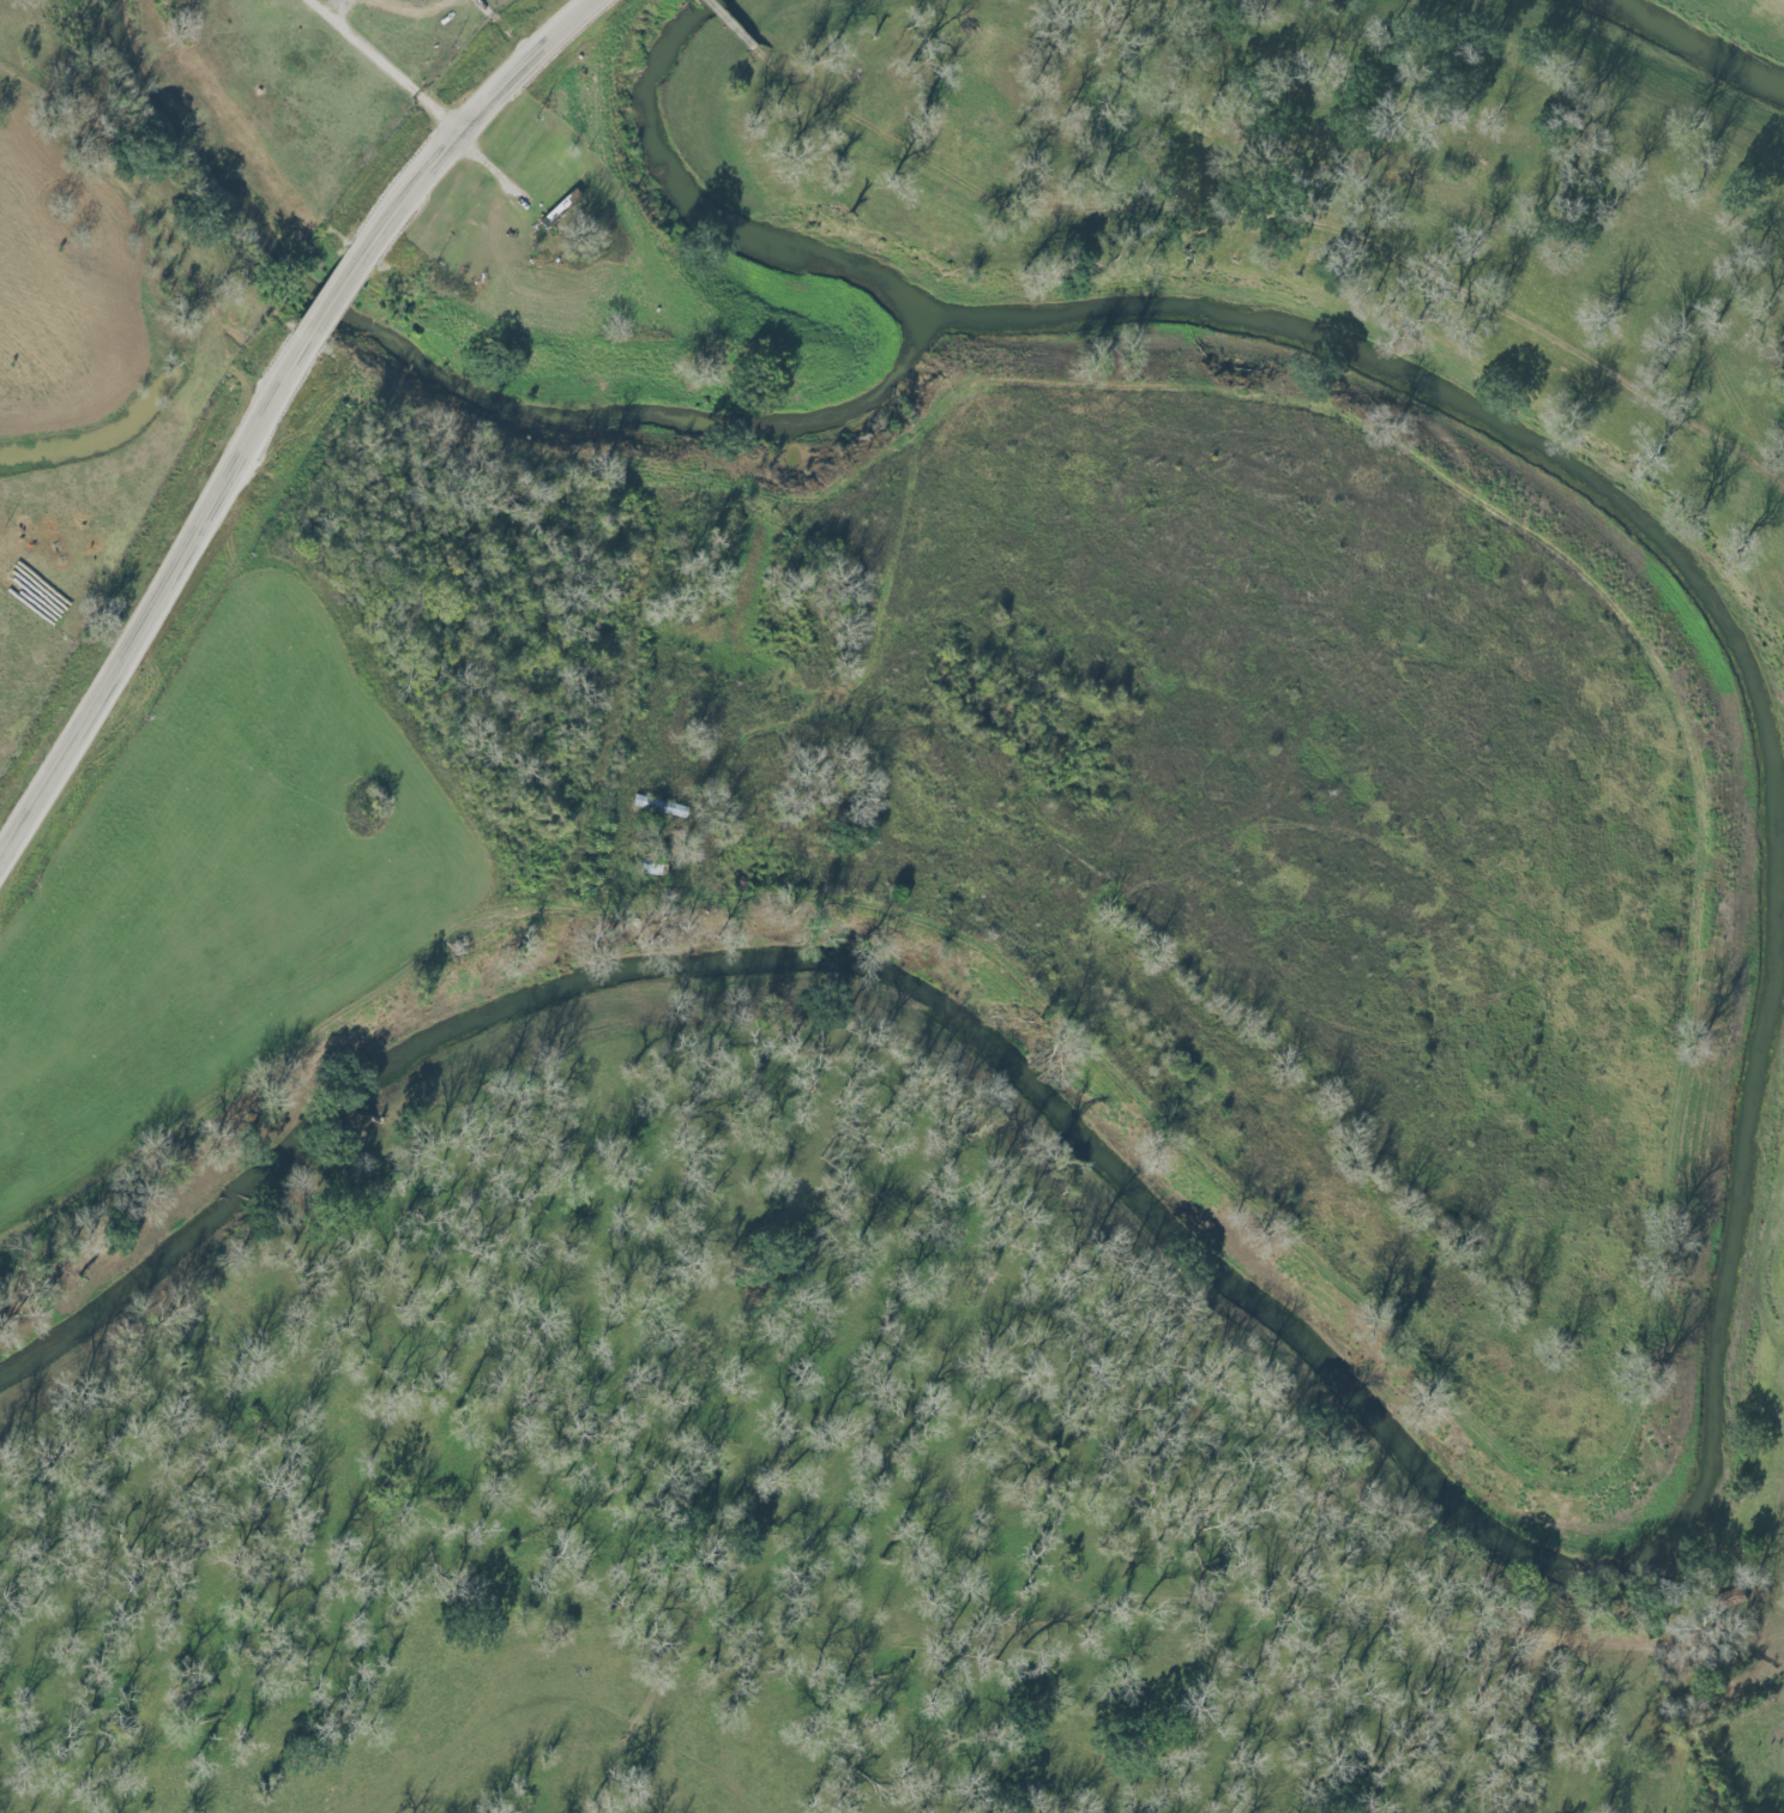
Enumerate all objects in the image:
road: (719, 8)
river: (1688, 44)
road: (390, 58)
road: (463, 112)
river: (216, 165)
building: (562, 210)
road: (1041, 284)
road: (326, 291)
river: (652, 412)
road: (149, 590)
road: (655, 595)
building: (661, 807)
building: (653, 865)
road: (428, 969)
river: (1717, 1407)

